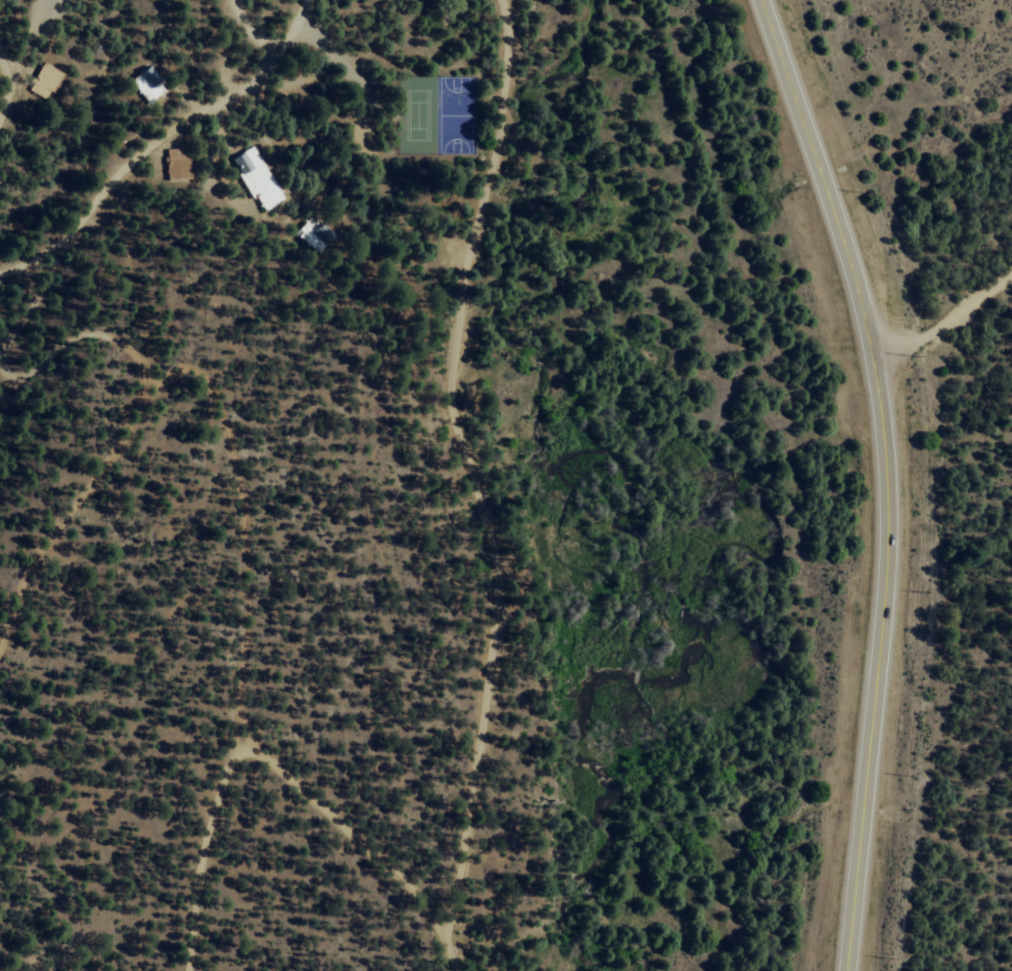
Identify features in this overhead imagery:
road: (254, 29)
road: (291, 38)
building: (43, 81)
road: (3, 84)
building: (146, 84)
park: (436, 114)
building: (176, 164)
road: (123, 167)
building: (255, 178)
building: (311, 241)
road: (16, 320)
road: (944, 328)
road: (187, 377)
road: (465, 452)
road: (884, 477)

